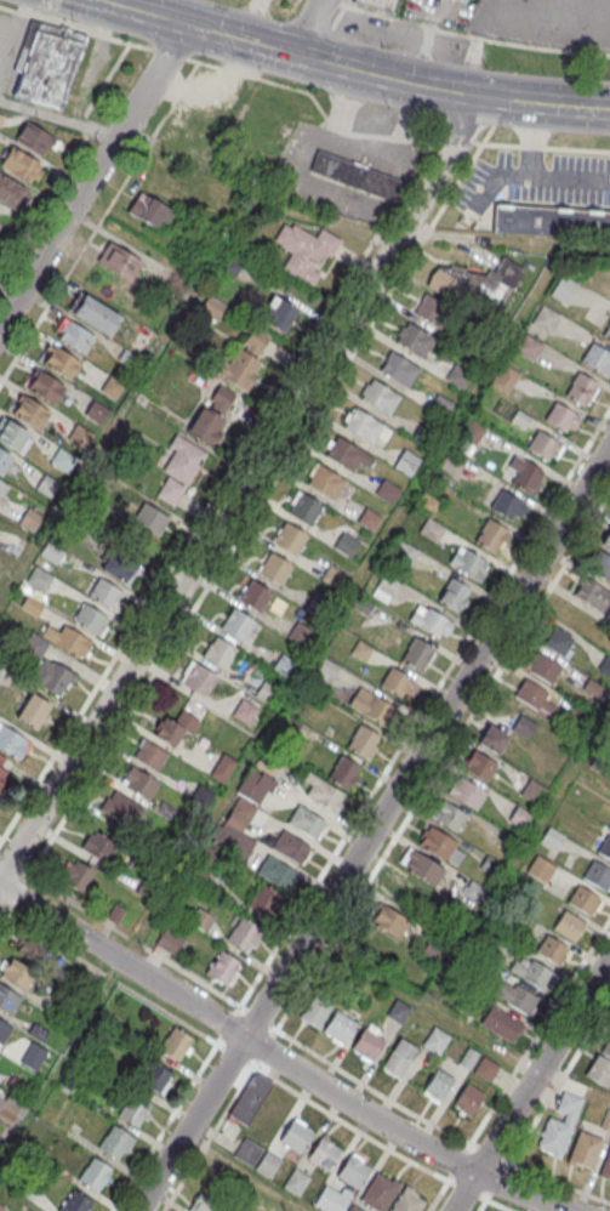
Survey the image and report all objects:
building: (381, 2)
road: (159, 8)
road: (252, 21)
road: (306, 27)
road: (464, 36)
building: (46, 62)
road: (352, 69)
road: (189, 78)
building: (33, 136)
building: (18, 163)
road: (439, 169)
building: (354, 175)
road: (93, 176)
building: (167, 187)
building: (12, 192)
building: (147, 209)
road: (296, 211)
building: (551, 221)
building: (0, 223)
building: (304, 250)
building: (118, 260)
building: (229, 267)
building: (178, 282)
building: (475, 283)
building: (564, 290)
building: (212, 308)
building: (433, 311)
building: (278, 313)
building: (95, 314)
building: (547, 318)
building: (606, 331)
building: (76, 336)
building: (416, 340)
building: (529, 347)
building: (597, 358)
building: (129, 359)
building: (59, 362)
building: (398, 368)
building: (239, 370)
building: (458, 377)
building: (504, 379)
building: (45, 387)
building: (112, 387)
building: (581, 388)
building: (380, 396)
building: (222, 398)
road: (126, 400)
building: (441, 406)
building: (30, 413)
building: (97, 413)
building: (563, 417)
building: (205, 425)
building: (363, 426)
building: (472, 432)
building: (11, 433)
building: (424, 436)
building: (80, 437)
building: (545, 445)
building: (346, 454)
road: (287, 455)
building: (4, 460)
building: (63, 461)
building: (406, 464)
building: (451, 464)
building: (179, 470)
road: (229, 472)
building: (526, 477)
building: (327, 482)
building: (2, 487)
building: (47, 487)
building: (388, 493)
building: (426, 504)
building: (507, 505)
building: (306, 508)
building: (30, 519)
building: (150, 519)
building: (369, 519)
building: (432, 530)
building: (490, 535)
building: (290, 538)
building: (606, 540)
building: (346, 544)
building: (51, 552)
building: (405, 553)
road: (196, 561)
building: (468, 562)
building: (118, 564)
building: (274, 567)
building: (600, 567)
building: (332, 576)
building: (39, 579)
building: (386, 586)
building: (106, 593)
building: (589, 593)
building: (255, 595)
building: (454, 595)
building: (317, 605)
building: (91, 619)
building: (429, 620)
building: (236, 624)
building: (300, 633)
building: (69, 639)
building: (557, 641)
building: (360, 652)
building: (417, 653)
building: (220, 654)
building: (284, 666)
building: (542, 666)
building: (326, 670)
building: (55, 678)
building: (198, 681)
building: (397, 683)
building: (266, 694)
building: (535, 697)
building: (372, 707)
building: (33, 711)
building: (244, 712)
building: (524, 726)
building: (175, 728)
building: (491, 739)
building: (364, 741)
building: (12, 743)
building: (149, 756)
building: (1, 758)
building: (479, 766)
building: (222, 768)
building: (344, 772)
building: (1, 774)
building: (139, 783)
building: (255, 785)
building: (534, 790)
building: (466, 792)
building: (203, 795)
building: (324, 795)
building: (121, 809)
building: (447, 817)
building: (306, 823)
building: (609, 824)
road: (372, 828)
building: (551, 837)
building: (440, 845)
building: (98, 846)
building: (290, 848)
building: (605, 848)
building: (207, 860)
building: (421, 866)
building: (540, 868)
building: (275, 872)
building: (78, 875)
building: (598, 876)
building: (403, 889)
road: (13, 898)
building: (263, 899)
building: (583, 902)
building: (389, 921)
building: (568, 927)
building: (241, 933)
building: (169, 940)
building: (30, 948)
building: (553, 950)
building: (222, 966)
building: (16, 972)
building: (534, 974)
road: (108, 977)
building: (515, 995)
building: (7, 999)
building: (318, 1010)
building: (398, 1011)
building: (501, 1023)
building: (340, 1027)
building: (4, 1030)
road: (540, 1031)
building: (437, 1041)
building: (175, 1042)
building: (367, 1045)
road: (312, 1052)
road: (278, 1057)
building: (399, 1058)
building: (602, 1065)
building: (485, 1068)
building: (154, 1078)
building: (438, 1085)
road: (531, 1085)
building: (467, 1098)
building: (251, 1099)
building: (133, 1109)
building: (5, 1111)
road: (330, 1114)
building: (560, 1126)
road: (165, 1127)
building: (296, 1137)
building: (114, 1141)
building: (585, 1150)
building: (247, 1153)
building: (324, 1155)
building: (268, 1165)
building: (605, 1167)
building: (95, 1172)
road: (249, 1172)
building: (353, 1172)
building: (296, 1182)
building: (380, 1193)
road: (439, 1196)
building: (331, 1199)
building: (75, 1201)
building: (407, 1201)
building: (207, 1205)
road: (483, 1205)
road: (498, 1205)
building: (1, 1207)
building: (354, 1209)

